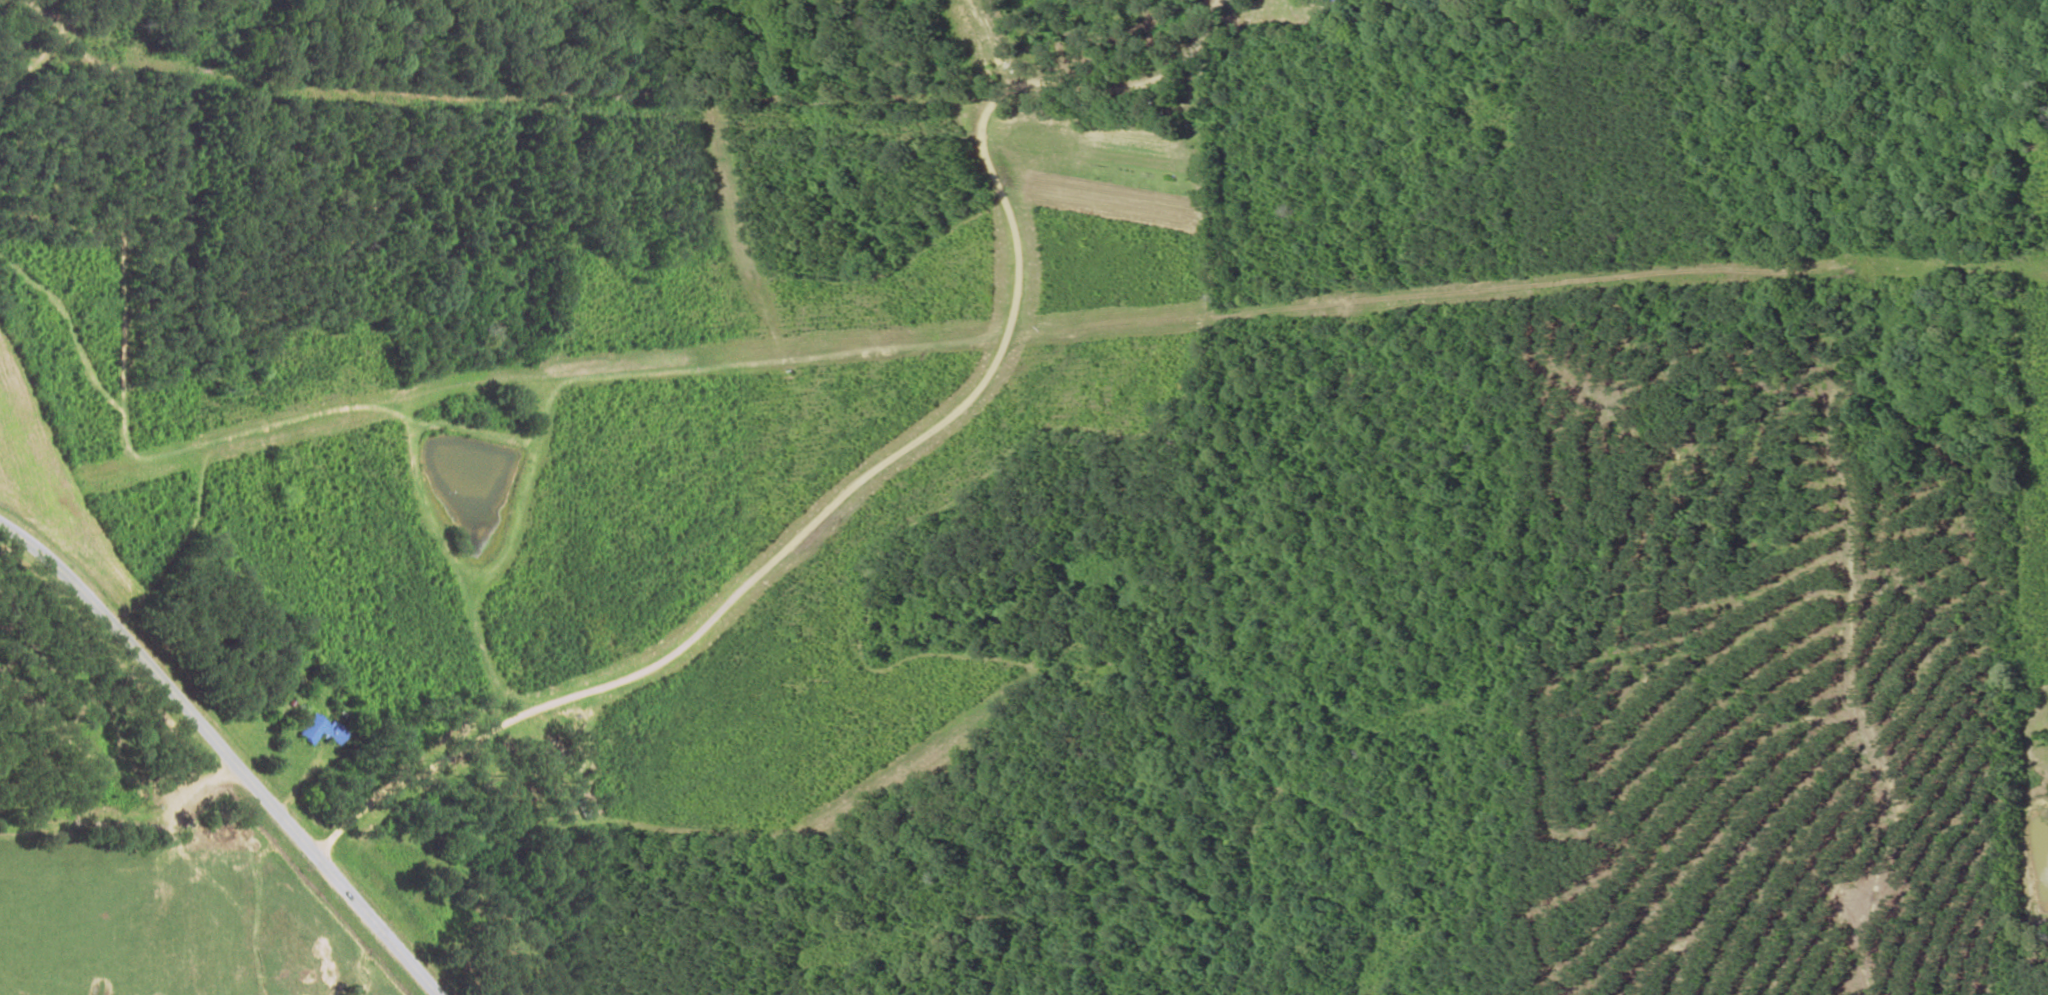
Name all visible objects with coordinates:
road: (34, 58)
road: (855, 613)
building: (319, 730)
road: (224, 771)

